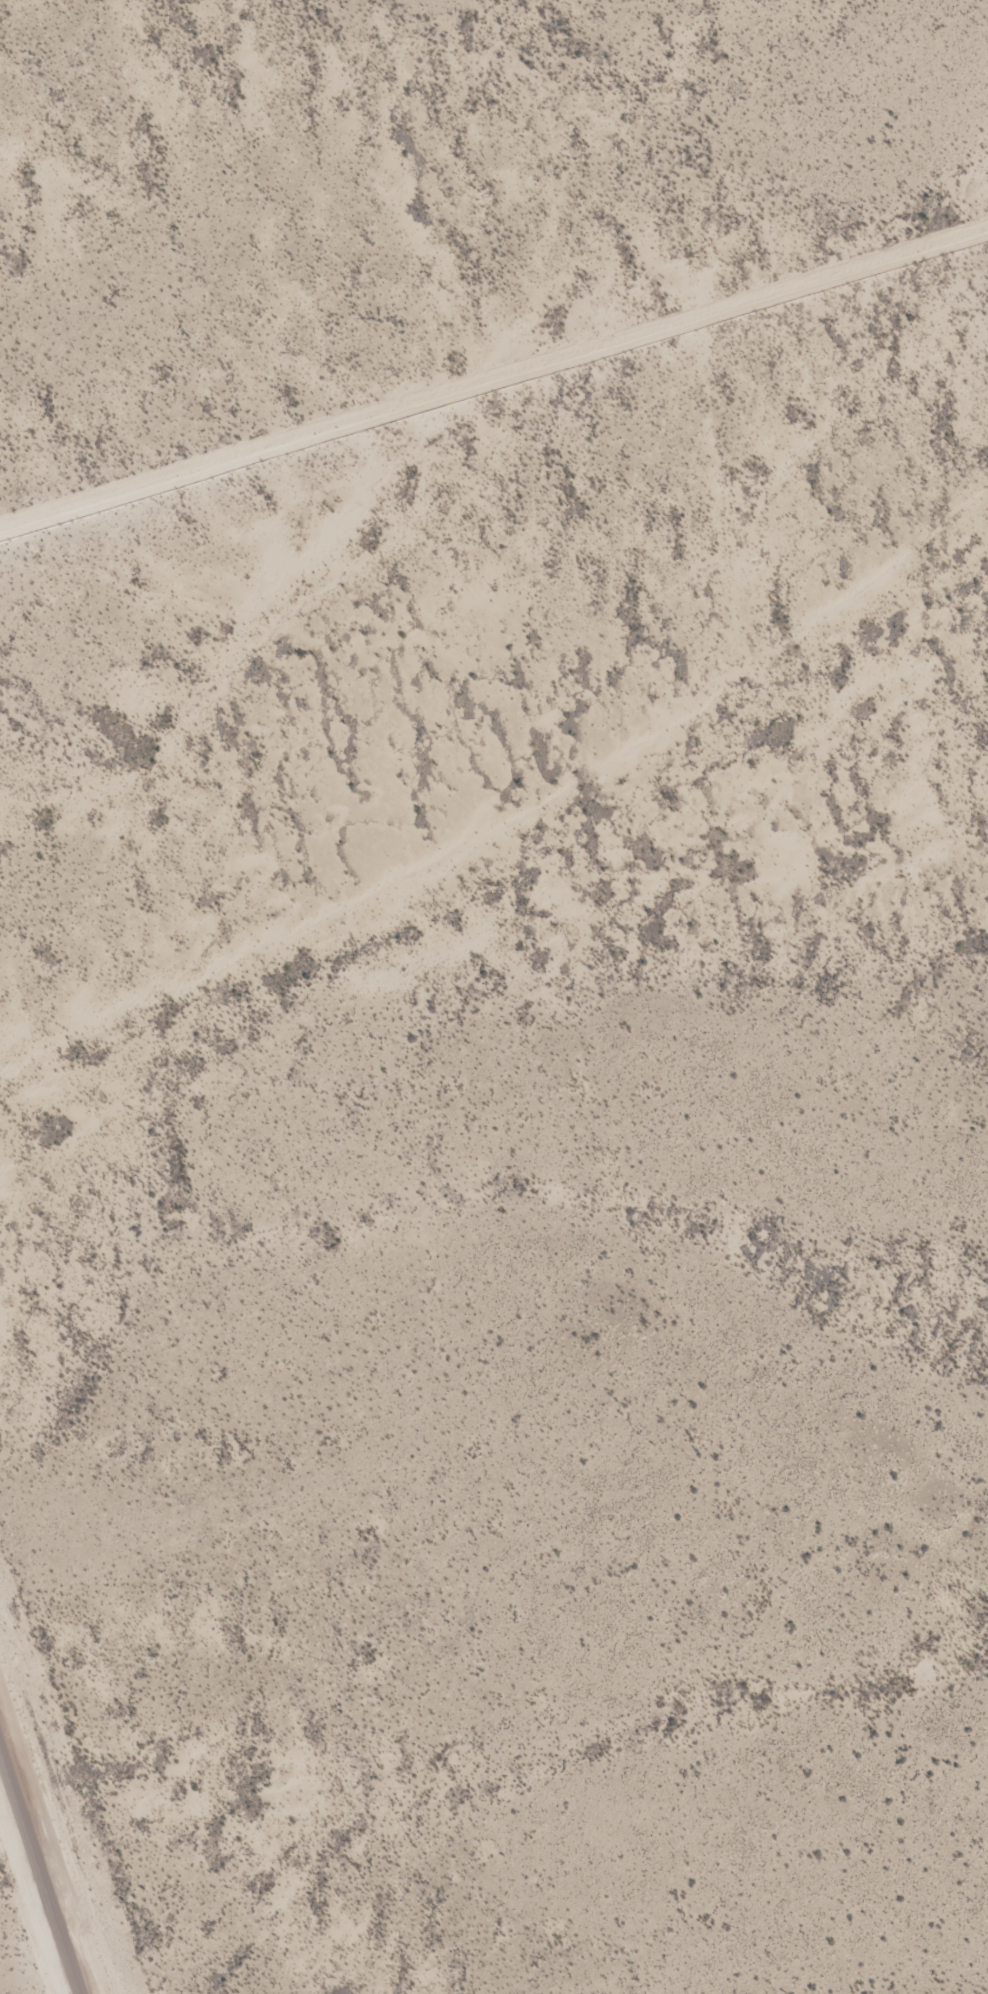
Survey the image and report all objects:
road: (44, 1857)

